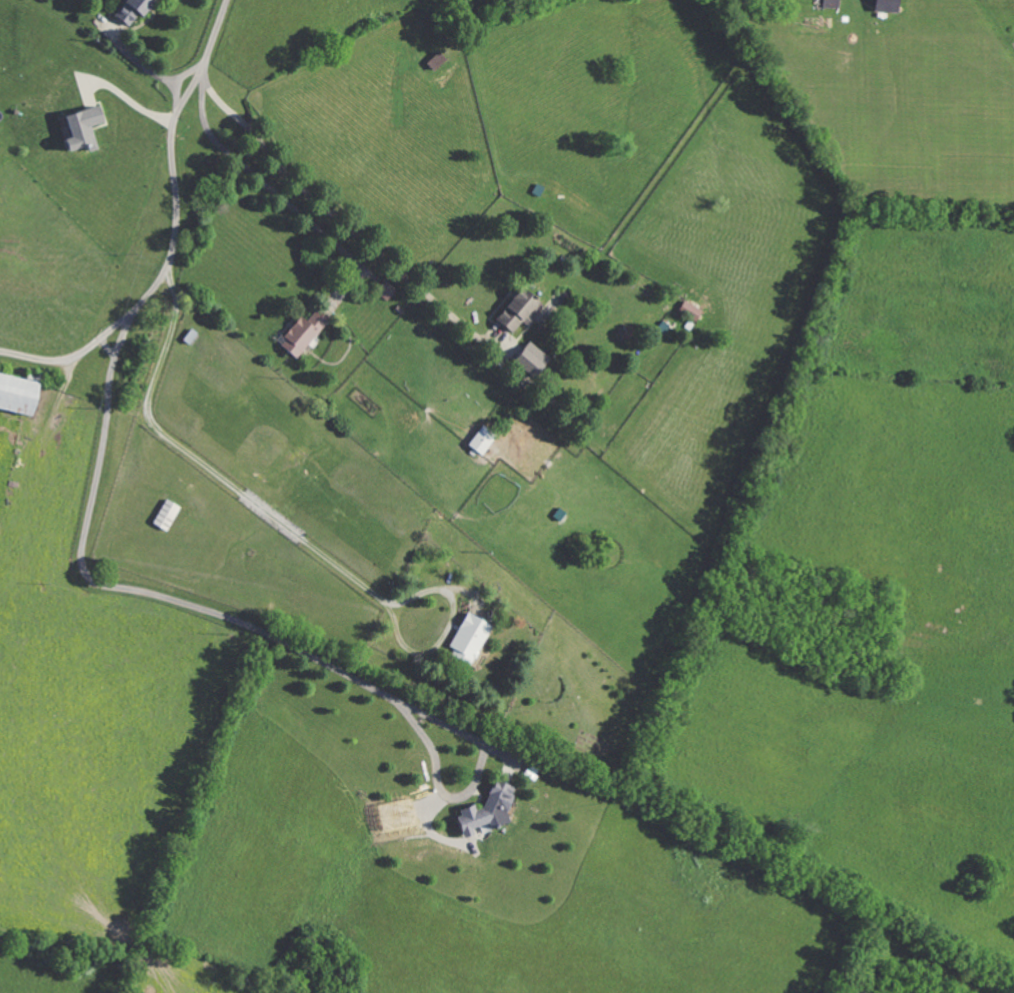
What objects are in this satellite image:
building: (883, 6)
building: (128, 10)
road: (142, 64)
road: (132, 101)
building: (78, 128)
road: (266, 186)
road: (182, 198)
road: (331, 214)
building: (381, 289)
building: (515, 310)
building: (688, 311)
building: (299, 333)
building: (528, 359)
road: (34, 360)
building: (15, 394)
building: (479, 440)
road: (287, 529)
road: (187, 604)
building: (466, 640)
building: (483, 812)

